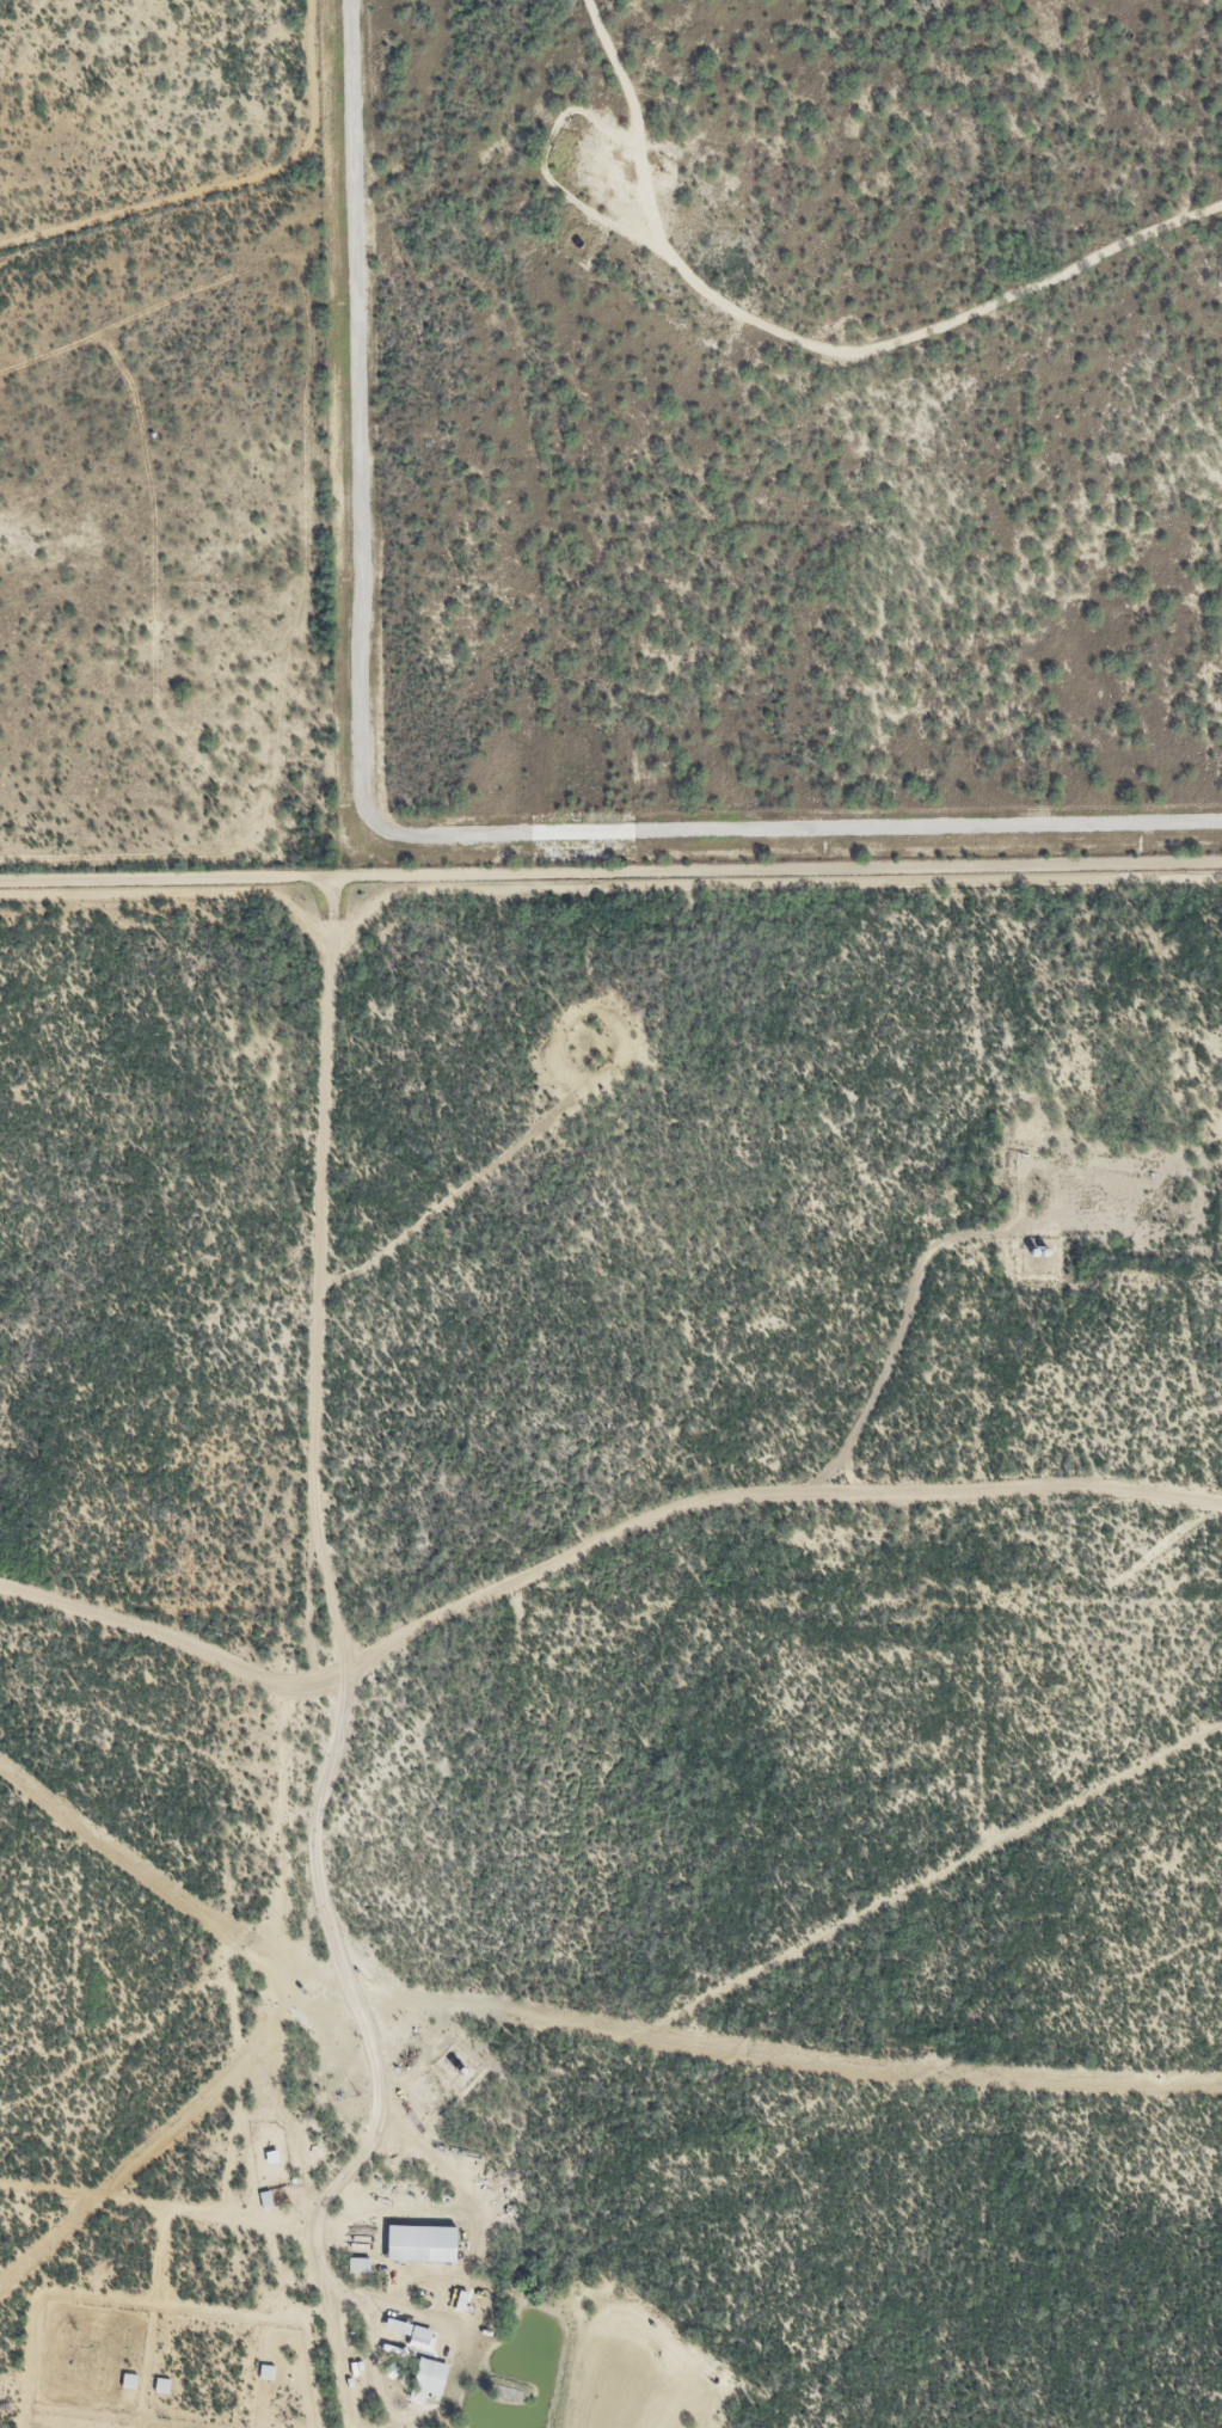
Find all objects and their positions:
road: (591, 1562)
road: (317, 2037)
building: (405, 2237)
building: (425, 2375)

